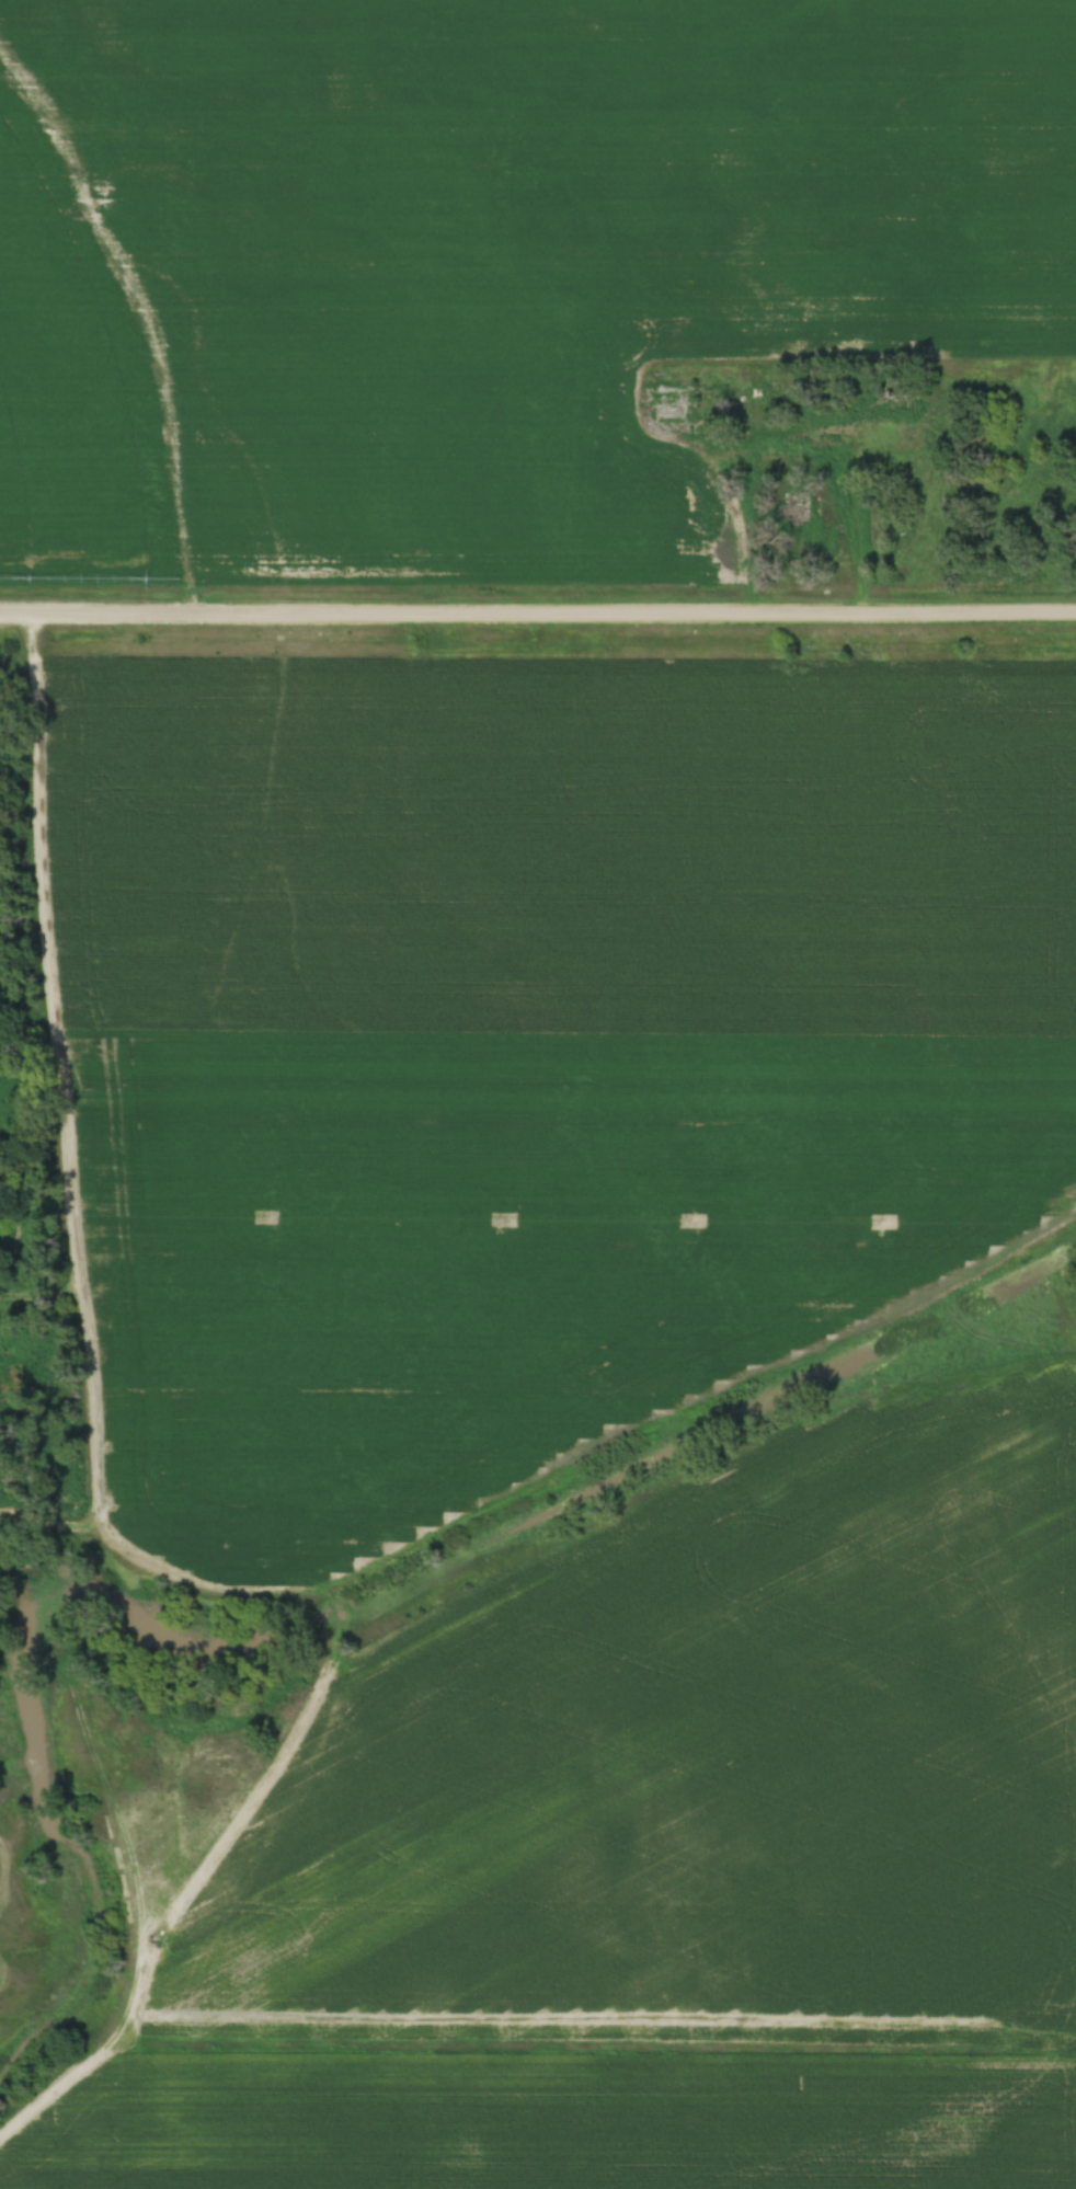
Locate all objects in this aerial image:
building: (799, 511)
road: (538, 612)

